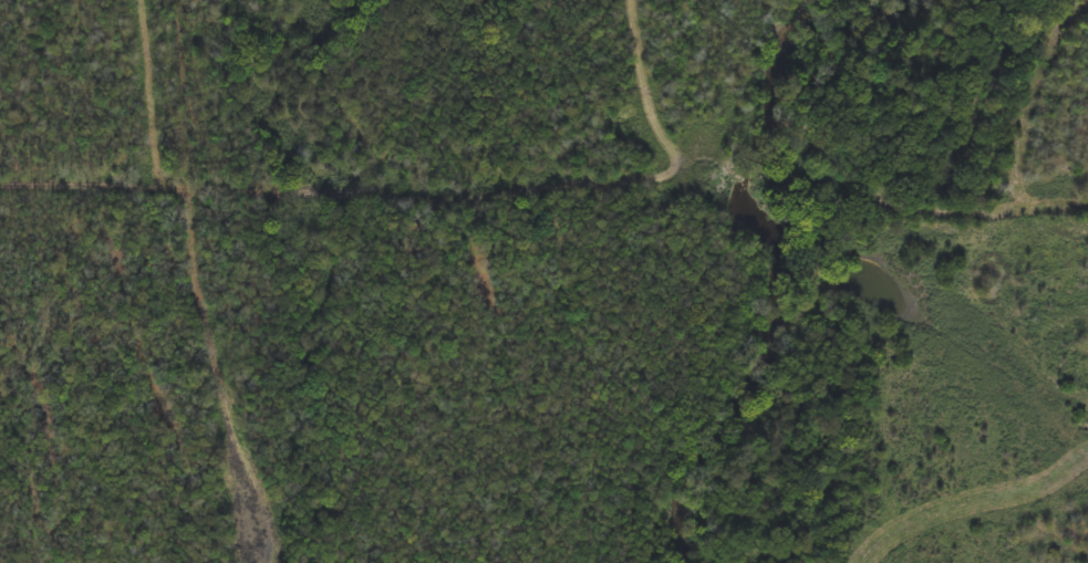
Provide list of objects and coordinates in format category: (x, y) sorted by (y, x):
river: (775, 239)

